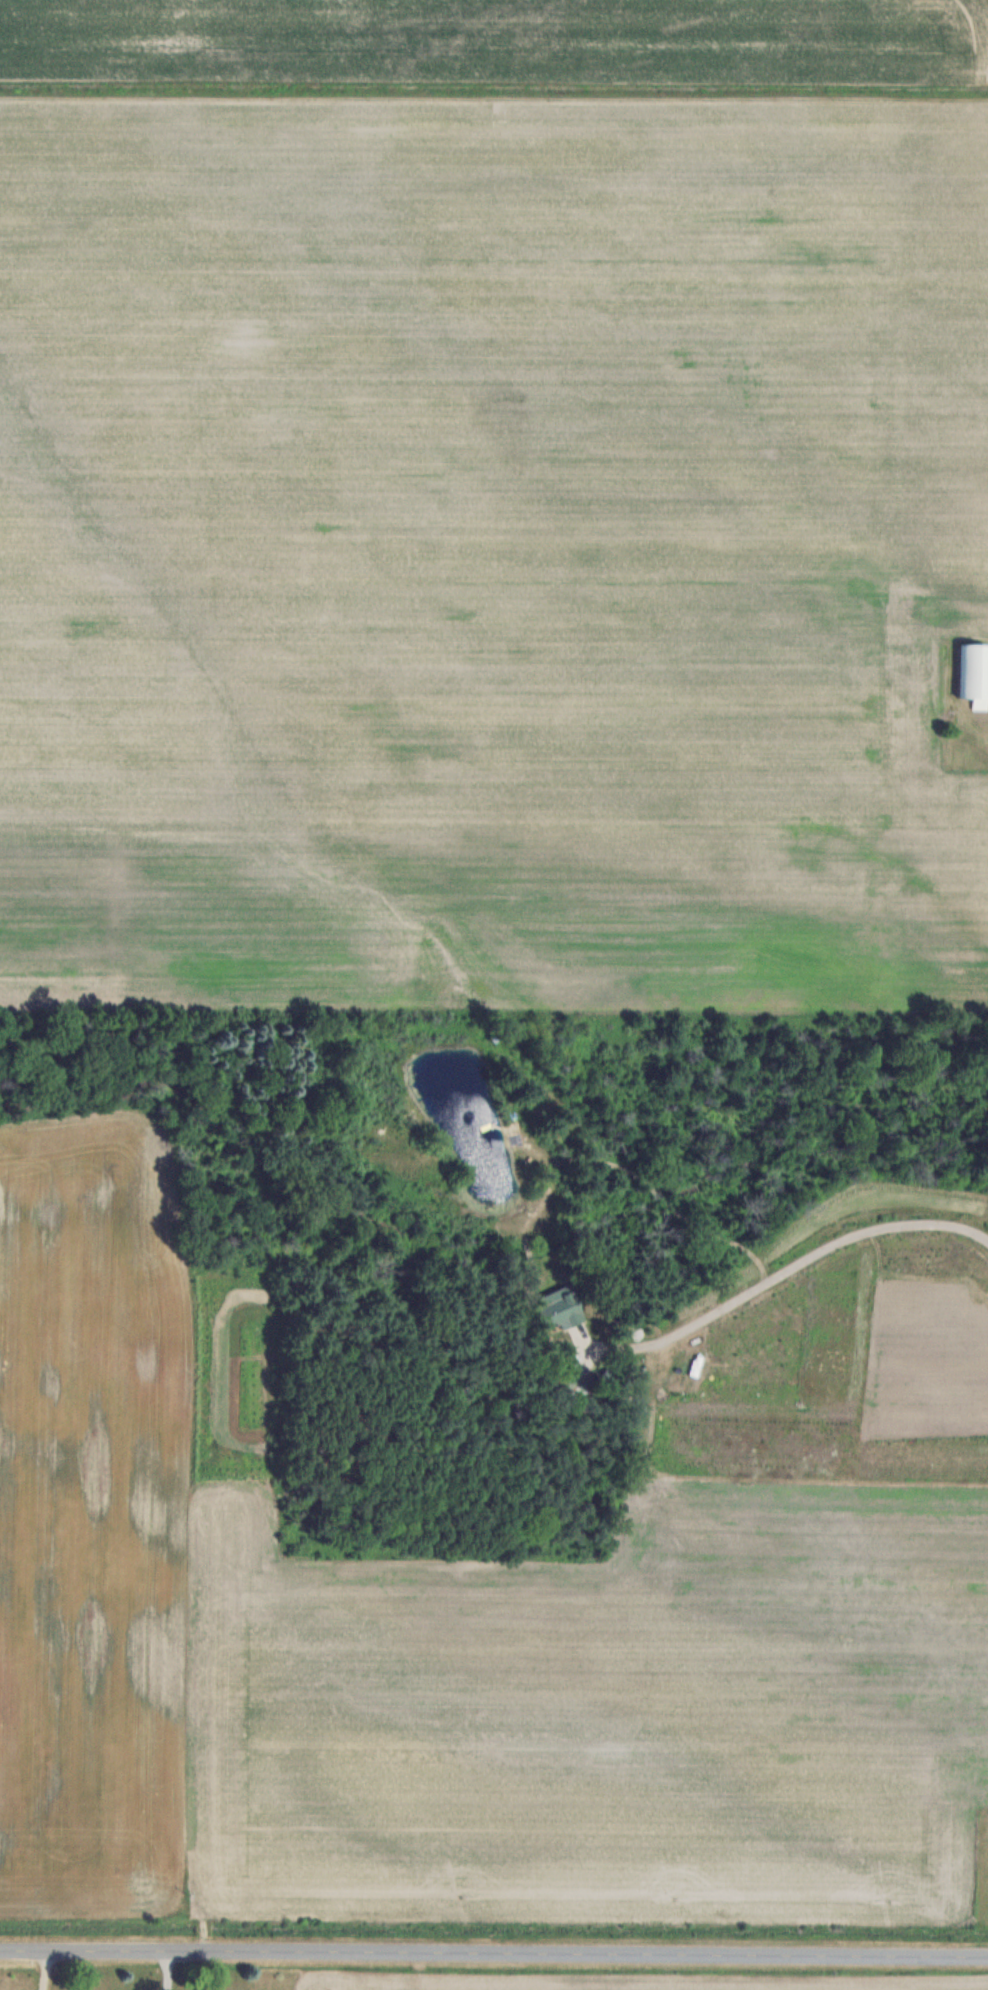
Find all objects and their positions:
building: (974, 674)
road: (782, 1266)
building: (559, 1309)
road: (494, 1952)

